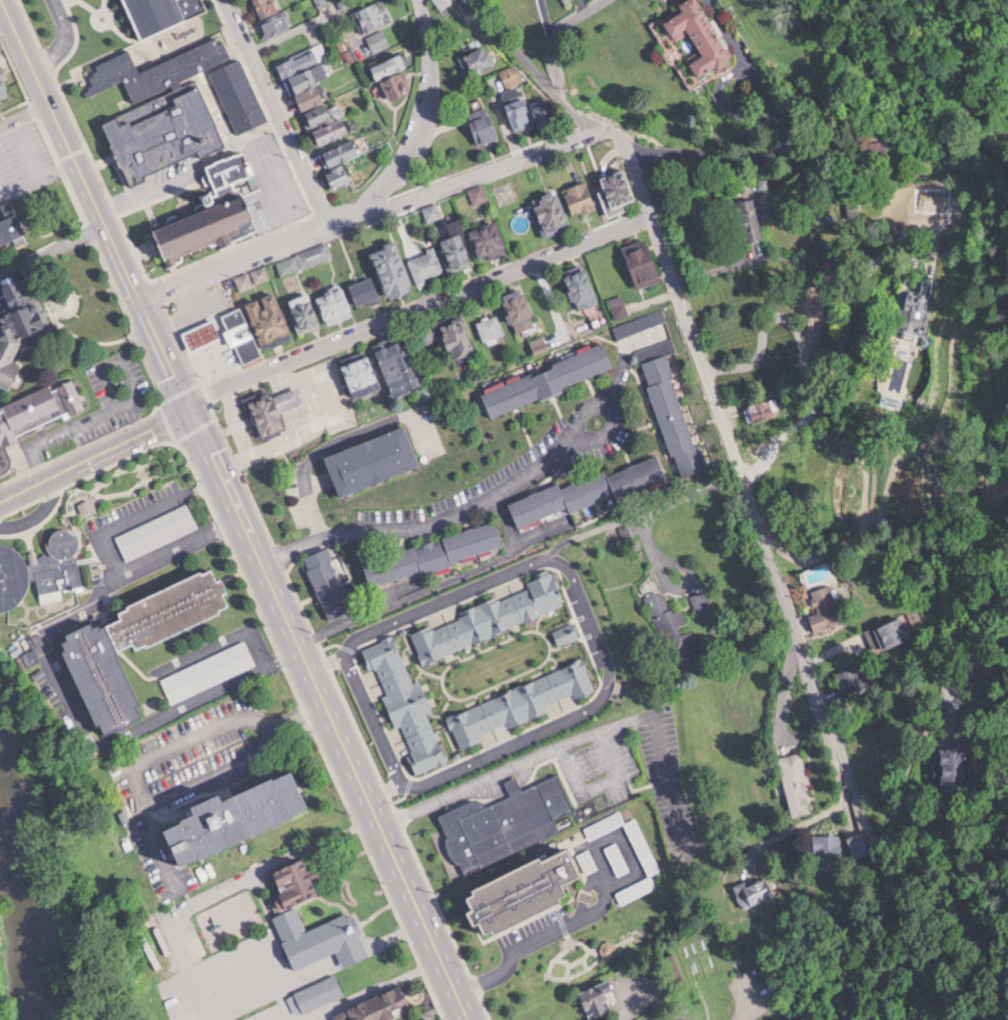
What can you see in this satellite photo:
building: (564, 0)
building: (443, 3)
building: (266, 7)
building: (162, 13)
building: (373, 14)
road: (8, 23)
building: (275, 25)
road: (558, 31)
building: (702, 34)
road: (61, 38)
building: (378, 39)
road: (28, 50)
building: (476, 57)
building: (299, 60)
building: (389, 63)
building: (511, 72)
building: (4, 83)
building: (310, 83)
building: (396, 83)
building: (176, 104)
building: (518, 105)
road: (280, 108)
road: (25, 111)
building: (483, 121)
building: (326, 122)
road: (424, 127)
building: (875, 148)
building: (342, 150)
building: (231, 168)
building: (338, 174)
building: (617, 190)
building: (580, 197)
road: (374, 202)
building: (853, 208)
building: (552, 209)
building: (751, 218)
building: (11, 222)
building: (205, 225)
building: (489, 237)
building: (457, 246)
road: (53, 247)
road: (120, 252)
building: (314, 254)
building: (642, 261)
building: (426, 264)
building: (393, 267)
building: (261, 274)
building: (582, 287)
building: (366, 291)
building: (335, 304)
building: (619, 305)
building: (520, 308)
road: (423, 309)
building: (305, 311)
building: (269, 316)
building: (639, 322)
building: (19, 326)
building: (491, 327)
building: (202, 334)
gas station: (224, 334)
building: (241, 334)
building: (457, 334)
building: (539, 344)
building: (398, 366)
building: (362, 374)
building: (548, 377)
road: (719, 395)
building: (670, 405)
building: (761, 407)
building: (272, 408)
building: (36, 411)
road: (337, 438)
road: (96, 451)
building: (374, 458)
building: (590, 488)
road: (480, 502)
building: (157, 529)
building: (434, 551)
building: (58, 564)
building: (12, 575)
building: (329, 581)
building: (700, 598)
building: (825, 607)
building: (671, 625)
building: (891, 631)
building: (138, 642)
building: (208, 670)
building: (855, 675)
road: (333, 712)
road: (151, 721)
road: (577, 737)
building: (952, 768)
road: (216, 770)
road: (600, 781)
building: (796, 783)
building: (240, 816)
building: (505, 819)
building: (857, 844)
building: (828, 846)
building: (617, 857)
river: (18, 880)
building: (530, 890)
building: (754, 890)
road: (597, 905)
building: (288, 912)
building: (315, 993)
building: (599, 997)
road: (440, 1001)
building: (379, 1007)
road: (748, 1009)
road: (655, 1019)

